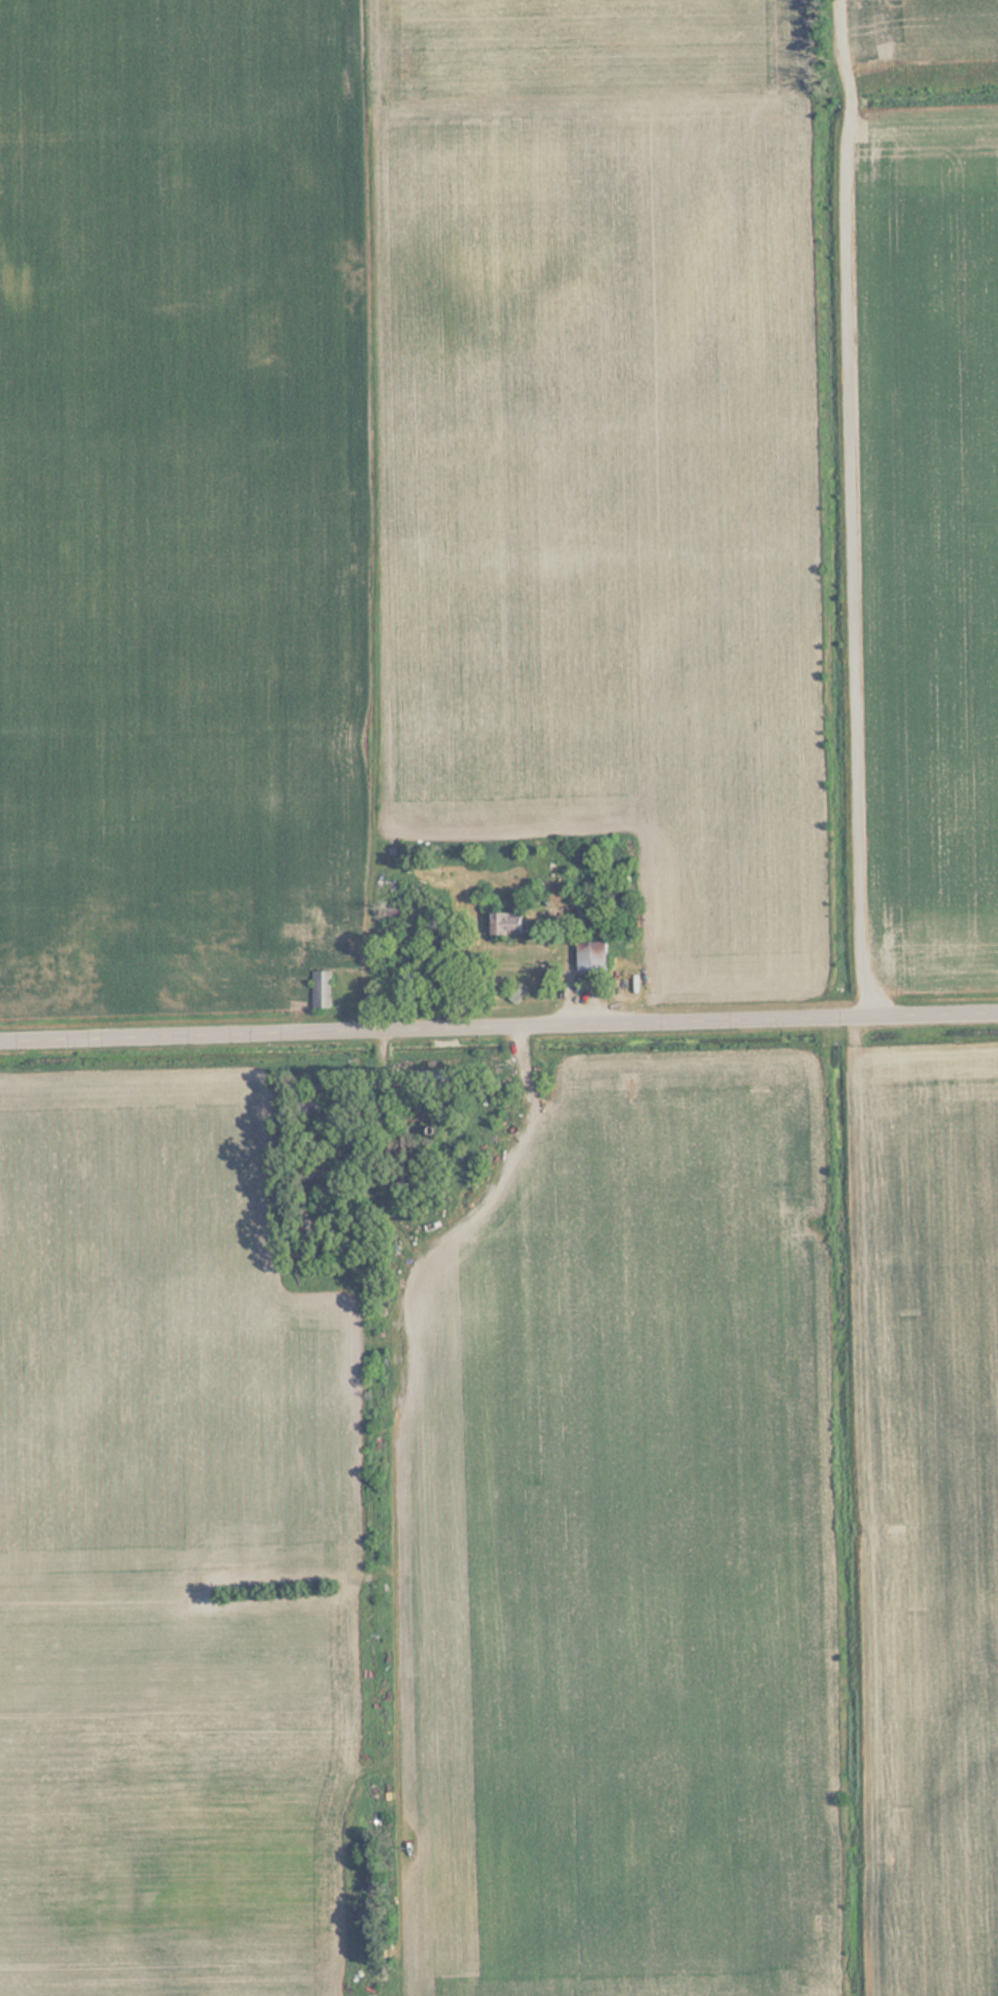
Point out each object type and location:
road: (854, 507)
building: (298, 922)
building: (512, 923)
building: (595, 955)
building: (324, 987)
building: (518, 991)
road: (499, 1025)
building: (319, 1101)

